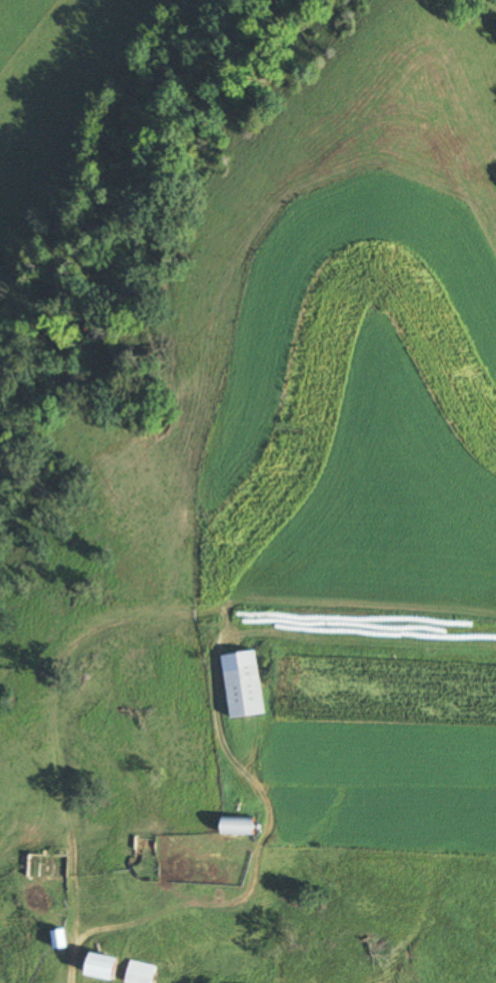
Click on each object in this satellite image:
building: (59, 605)
building: (141, 661)
building: (244, 683)
building: (241, 824)
building: (140, 846)
building: (49, 865)
road: (87, 921)
building: (105, 967)
building: (141, 973)

